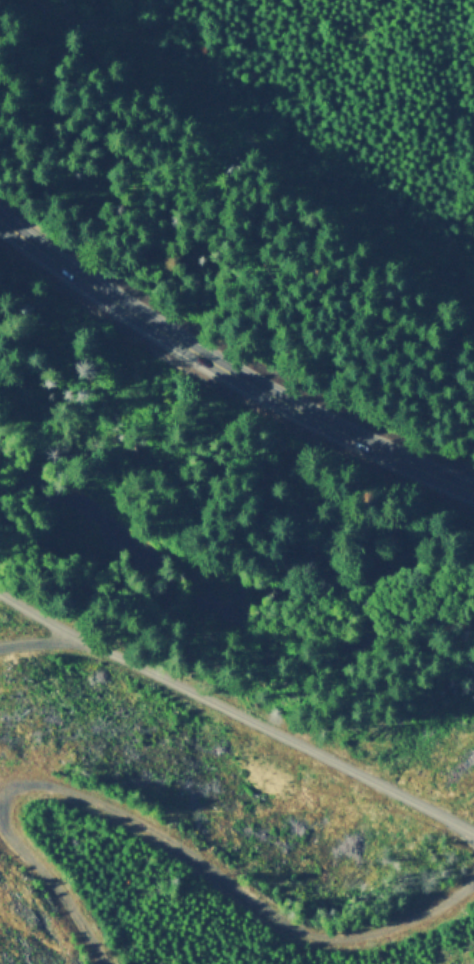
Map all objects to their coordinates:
road: (252, 138)
road: (228, 368)
road: (234, 706)
road: (153, 828)

